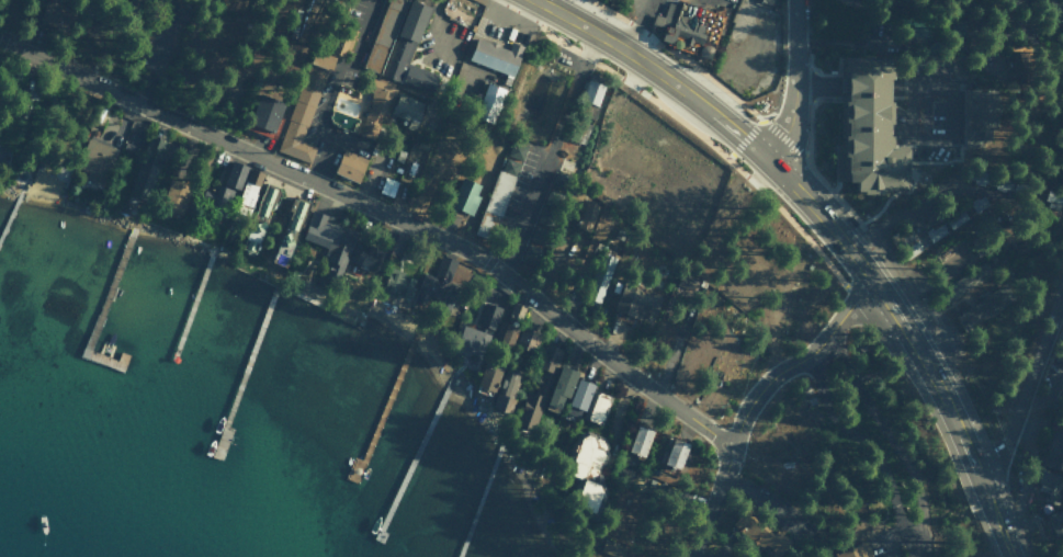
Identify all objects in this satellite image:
building: (766, 1)
building: (394, 11)
building: (1059, 11)
building: (181, 12)
building: (54, 13)
building: (686, 26)
building: (343, 41)
building: (409, 49)
building: (496, 55)
building: (1017, 64)
road: (789, 87)
building: (593, 88)
building: (26, 94)
building: (488, 101)
building: (344, 103)
building: (304, 107)
building: (376, 107)
building: (406, 109)
building: (264, 114)
building: (979, 116)
building: (870, 127)
building: (3, 146)
road: (540, 148)
building: (95, 159)
building: (350, 164)
building: (147, 167)
building: (984, 177)
building: (46, 181)
building: (504, 181)
building: (387, 186)
building: (249, 187)
building: (224, 189)
building: (465, 194)
building: (176, 195)
building: (1053, 200)
road: (806, 203)
building: (979, 205)
pier: (11, 214)
building: (587, 215)
building: (259, 216)
road: (382, 216)
building: (289, 230)
building: (936, 231)
building: (1003, 236)
building: (330, 238)
building: (536, 243)
building: (365, 255)
road: (699, 268)
building: (598, 276)
building: (440, 281)
building: (397, 283)
building: (964, 283)
building: (636, 302)
pier: (102, 305)
pier: (191, 305)
building: (983, 308)
building: (488, 314)
building: (504, 332)
building: (525, 338)
building: (470, 342)
pier: (247, 368)
building: (488, 374)
building: (541, 378)
building: (562, 384)
road: (1028, 391)
building: (506, 393)
building: (578, 396)
road: (749, 398)
pier: (383, 407)
building: (598, 407)
building: (640, 440)
road: (887, 442)
pier: (416, 450)
building: (1054, 451)
building: (676, 452)
building: (586, 454)
building: (1048, 482)
pier: (480, 490)
building: (589, 493)
building: (1054, 520)
road: (997, 525)
building: (760, 533)
building: (610, 549)

